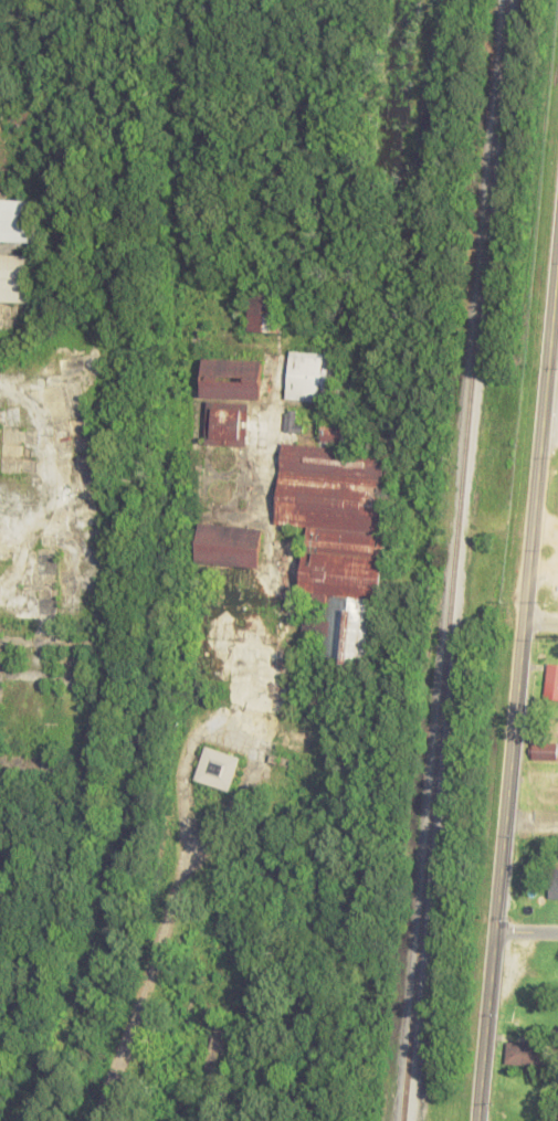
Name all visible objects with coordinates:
building: (19, 220)
building: (15, 277)
building: (266, 311)
road: (554, 347)
building: (0, 368)
building: (308, 376)
building: (233, 378)
building: (292, 421)
building: (228, 424)
building: (338, 541)
building: (230, 544)
railway: (453, 560)
road: (540, 626)
building: (550, 680)
road: (516, 690)
building: (544, 750)
building: (217, 768)
building: (554, 882)
road: (525, 932)
building: (525, 1054)

